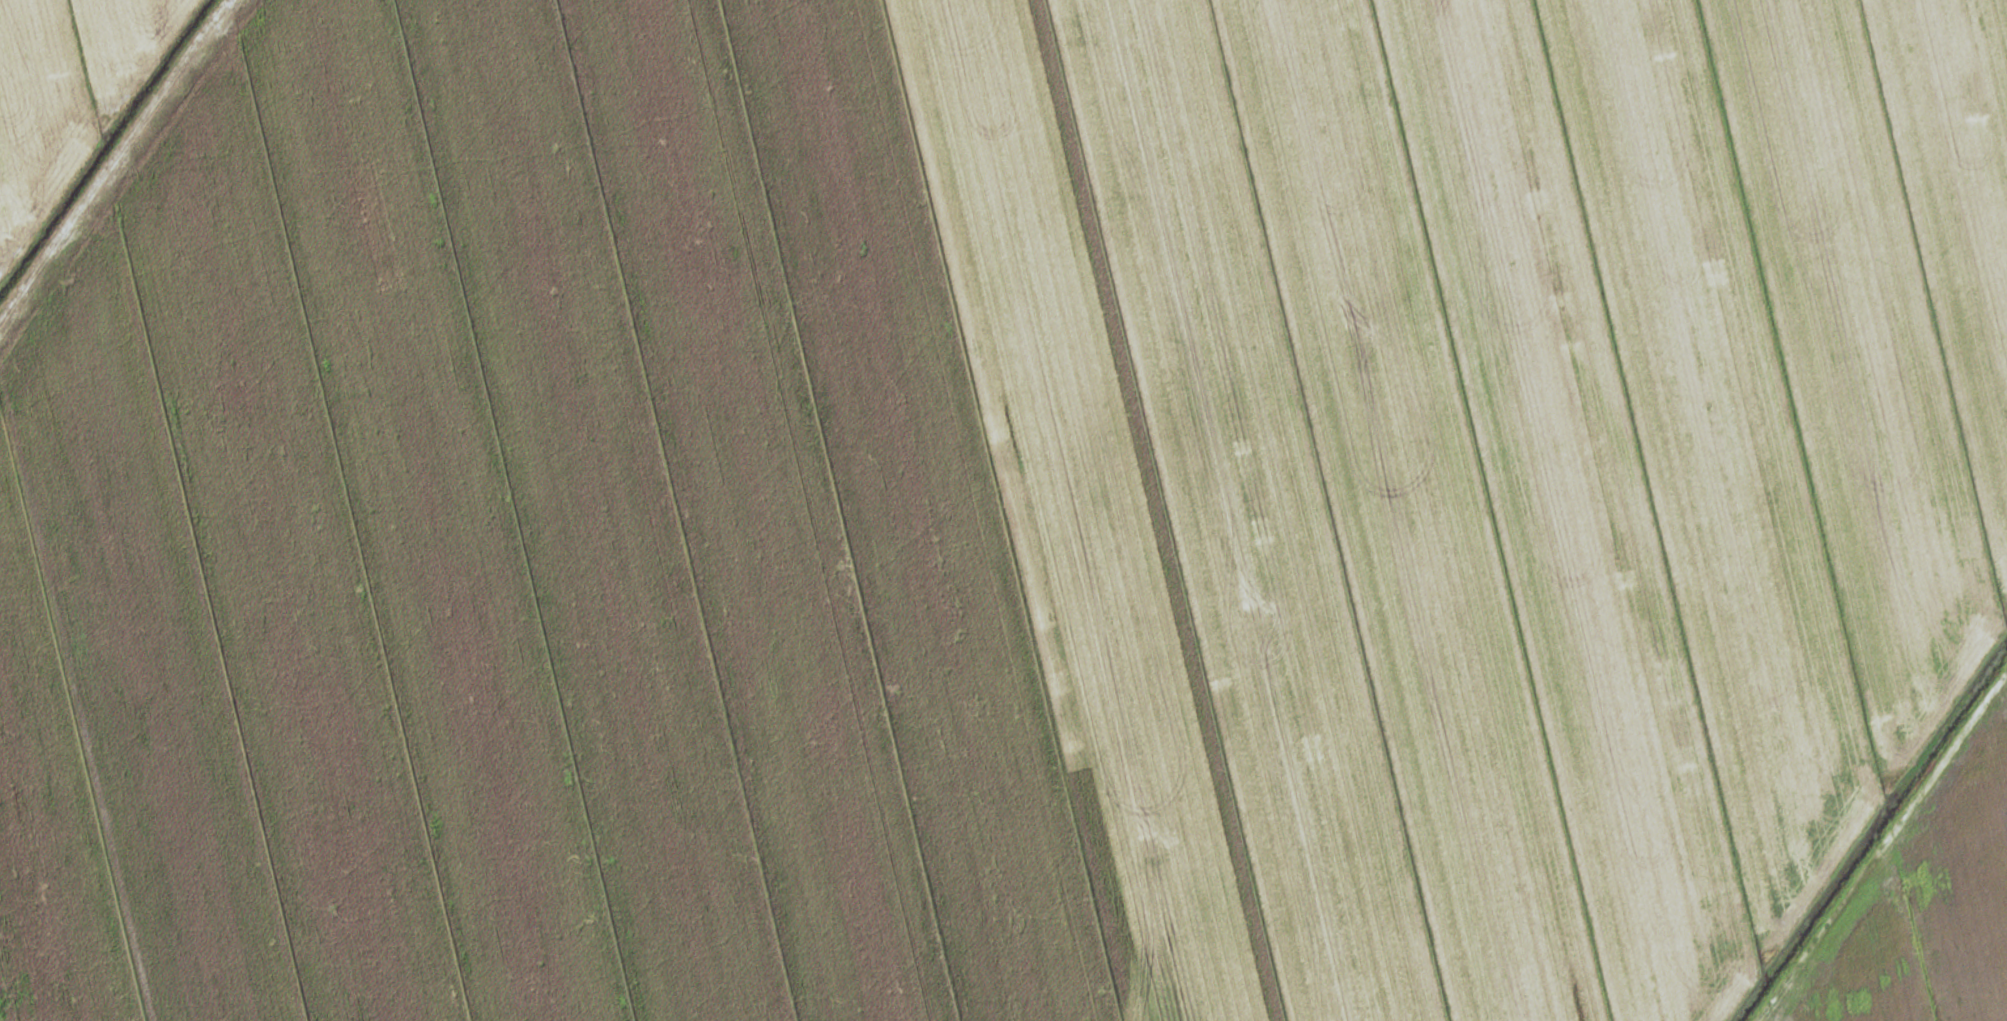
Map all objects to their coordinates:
crop: (1926, 907)

